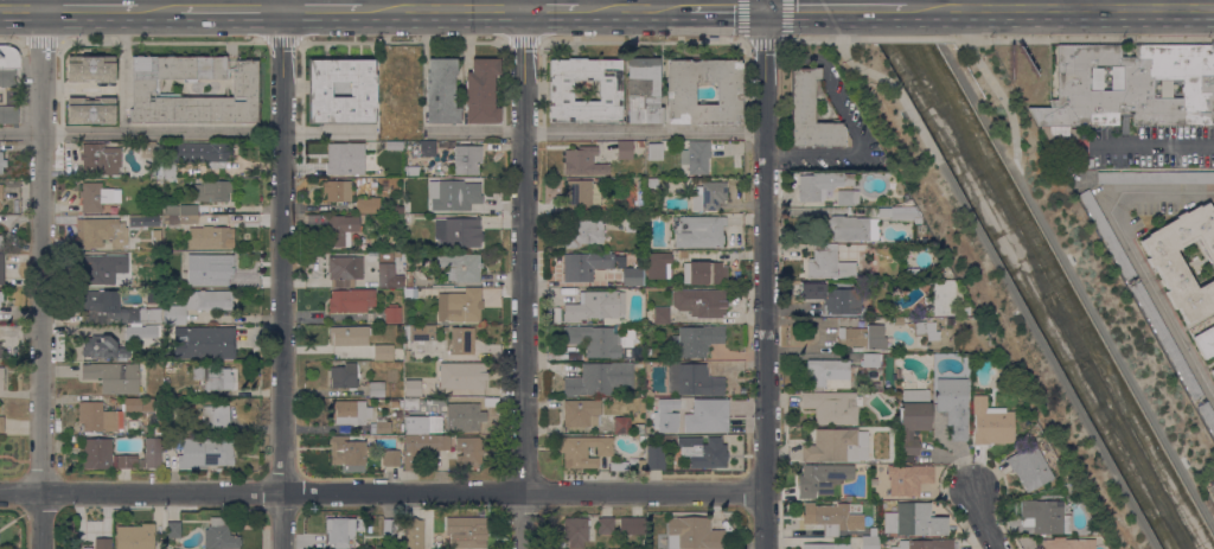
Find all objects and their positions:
road: (53, 4)
road: (964, 4)
road: (1058, 4)
road: (1080, 4)
road: (1155, 4)
road: (763, 5)
road: (20, 8)
road: (89, 8)
road: (156, 8)
road: (229, 8)
road: (322, 8)
road: (443, 8)
road: (551, 8)
road: (632, 8)
road: (723, 8)
road: (784, 8)
road: (856, 8)
road: (935, 8)
road: (1088, 8)
traffic signals: (763, 9)
road: (1091, 38)
road: (762, 40)
building: (8, 66)
building: (90, 70)
building: (1060, 81)
building: (145, 89)
building: (1135, 89)
building: (362, 90)
building: (643, 90)
building: (441, 91)
building: (481, 91)
building: (561, 91)
building: (681, 94)
building: (89, 110)
building: (811, 114)
building: (8, 115)
road: (844, 121)
road: (598, 132)
road: (184, 134)
building: (394, 146)
building: (638, 146)
building: (427, 149)
building: (624, 151)
building: (1061, 151)
building: (654, 152)
building: (152, 154)
building: (197, 157)
building: (338, 158)
building: (695, 158)
building: (100, 159)
building: (466, 160)
building: (583, 161)
building: (1, 162)
building: (1084, 162)
building: (411, 171)
building: (1155, 178)
building: (652, 183)
building: (640, 184)
building: (820, 185)
building: (212, 191)
building: (338, 191)
building: (1, 193)
building: (453, 194)
building: (579, 196)
building: (708, 196)
building: (96, 197)
building: (846, 198)
building: (366, 205)
parking lot: (1155, 208)
building: (180, 210)
building: (899, 213)
building: (368, 218)
building: (410, 218)
building: (181, 219)
building: (145, 222)
building: (633, 224)
building: (852, 229)
building: (340, 230)
building: (698, 231)
road: (1047, 231)
building: (101, 232)
building: (583, 232)
building: (461, 234)
building: (1106, 236)
building: (155, 237)
building: (209, 237)
building: (1, 242)
road: (1131, 250)
building: (372, 254)
building: (172, 258)
road: (991, 258)
park: (1084, 262)
building: (1163, 262)
building: (828, 263)
building: (584, 264)
building: (658, 266)
building: (459, 267)
building: (213, 268)
building: (1, 269)
building: (96, 269)
building: (344, 270)
building: (704, 273)
road: (281, 274)
building: (910, 274)
building: (385, 275)
building: (632, 276)
road: (41, 279)
building: (409, 279)
road: (523, 279)
road: (763, 279)
building: (409, 294)
building: (1, 296)
building: (941, 298)
park: (992, 298)
building: (153, 299)
building: (836, 299)
building: (351, 300)
building: (699, 302)
building: (197, 305)
building: (459, 306)
building: (596, 307)
building: (114, 311)
building: (391, 313)
building: (660, 314)
building: (908, 314)
building: (897, 321)
building: (925, 330)
building: (139, 331)
building: (418, 333)
building: (347, 337)
building: (861, 337)
building: (461, 340)
building: (594, 340)
building: (696, 340)
building: (1165, 340)
building: (1205, 341)
building: (204, 344)
building: (104, 347)
building: (405, 349)
building: (383, 352)
building: (1, 353)
building: (627, 353)
building: (870, 360)
building: (647, 365)
building: (408, 368)
building: (430, 370)
building: (1213, 371)
building: (863, 372)
building: (828, 374)
building: (897, 374)
building: (468, 376)
building: (113, 377)
building: (212, 377)
building: (343, 377)
building: (1, 379)
building: (599, 379)
building: (692, 381)
building: (951, 385)
building: (376, 389)
building: (394, 403)
building: (138, 404)
building: (410, 404)
building: (831, 408)
building: (349, 413)
building: (953, 413)
building: (581, 414)
building: (669, 414)
building: (397, 415)
building: (468, 416)
building: (1207, 416)
building: (97, 417)
building: (215, 419)
building: (912, 420)
building: (990, 423)
building: (1, 424)
building: (422, 424)
building: (382, 426)
building: (620, 426)
building: (638, 429)
building: (156, 430)
building: (657, 440)
building: (832, 447)
building: (421, 448)
building: (468, 451)
building: (583, 451)
building: (347, 452)
building: (705, 452)
building: (96, 453)
building: (152, 453)
building: (213, 453)
building: (394, 457)
building: (654, 458)
building: (124, 461)
building: (640, 465)
building: (619, 466)
building: (1028, 468)
building: (820, 479)
building: (907, 479)
parking lot: (1208, 490)
road: (382, 492)
building: (884, 506)
building: (835, 517)
building: (1043, 517)
building: (915, 519)
road: (986, 521)
building: (605, 525)
building: (631, 525)
building: (70, 526)
building: (390, 526)
building: (873, 529)
building: (173, 530)
building: (339, 531)
building: (466, 532)
building: (575, 532)
building: (413, 534)
building: (692, 534)
building: (219, 536)
building: (135, 537)
building: (101, 543)
building: (869, 543)
building: (1065, 543)
building: (925, 544)
building: (817, 547)
building: (87, 548)

